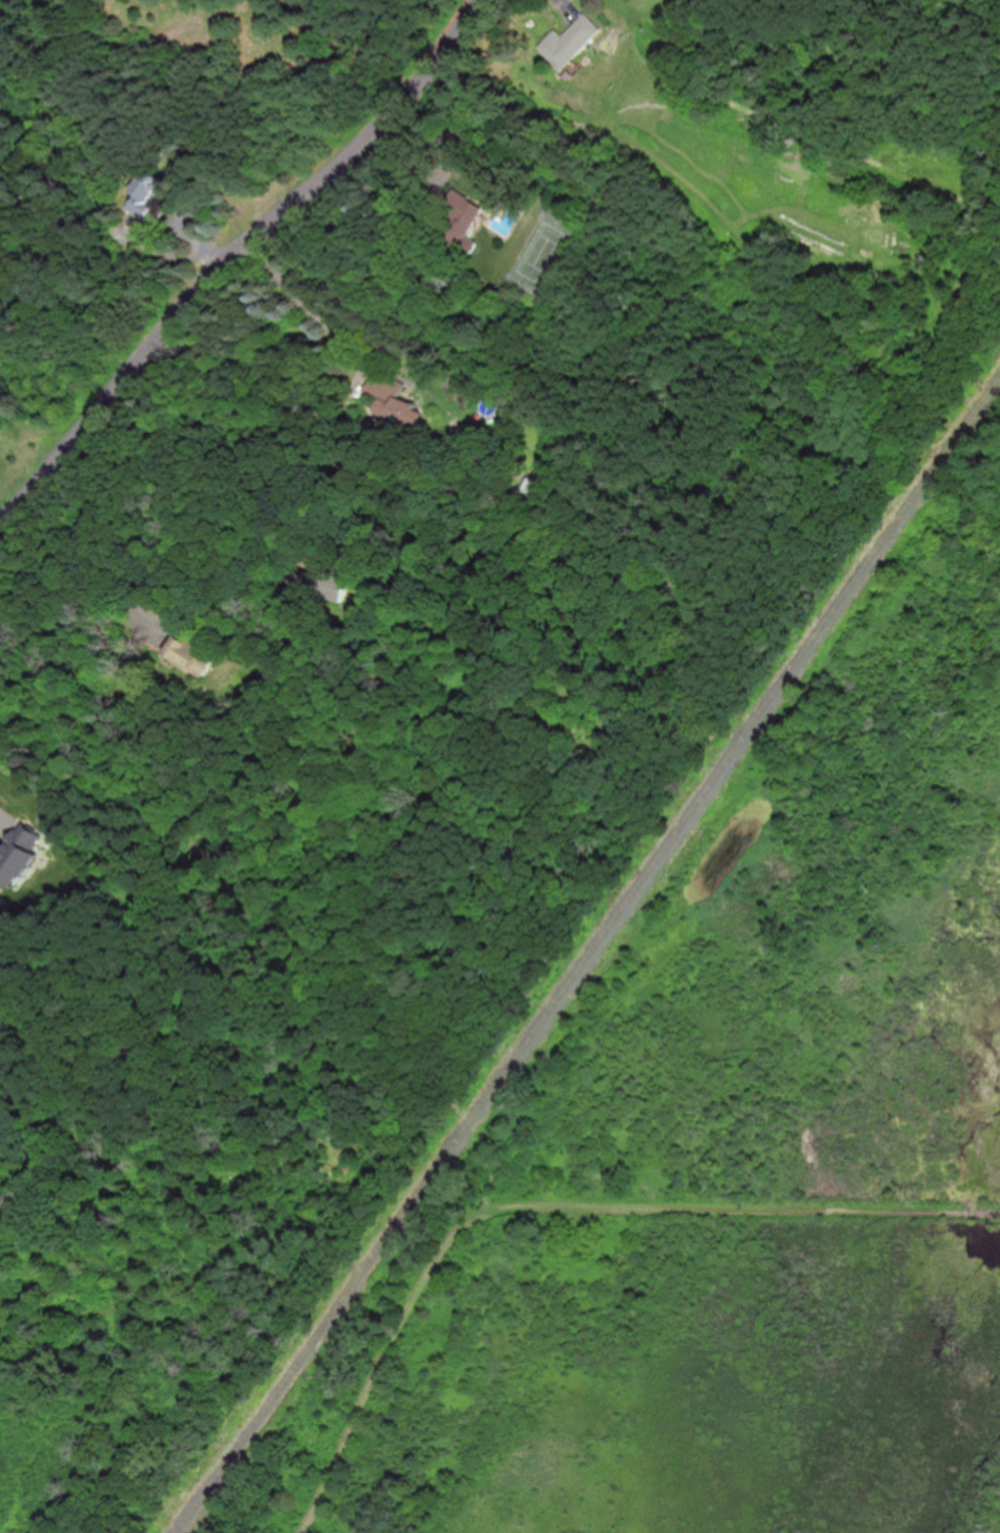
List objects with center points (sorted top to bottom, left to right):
building: (571, 40)
building: (149, 190)
building: (461, 218)
road: (233, 256)
road: (299, 297)
building: (395, 399)
road: (191, 497)
road: (64, 580)
building: (337, 580)
building: (195, 654)
road: (0, 812)
railway: (587, 956)
park: (631, 1157)
road: (554, 1208)

